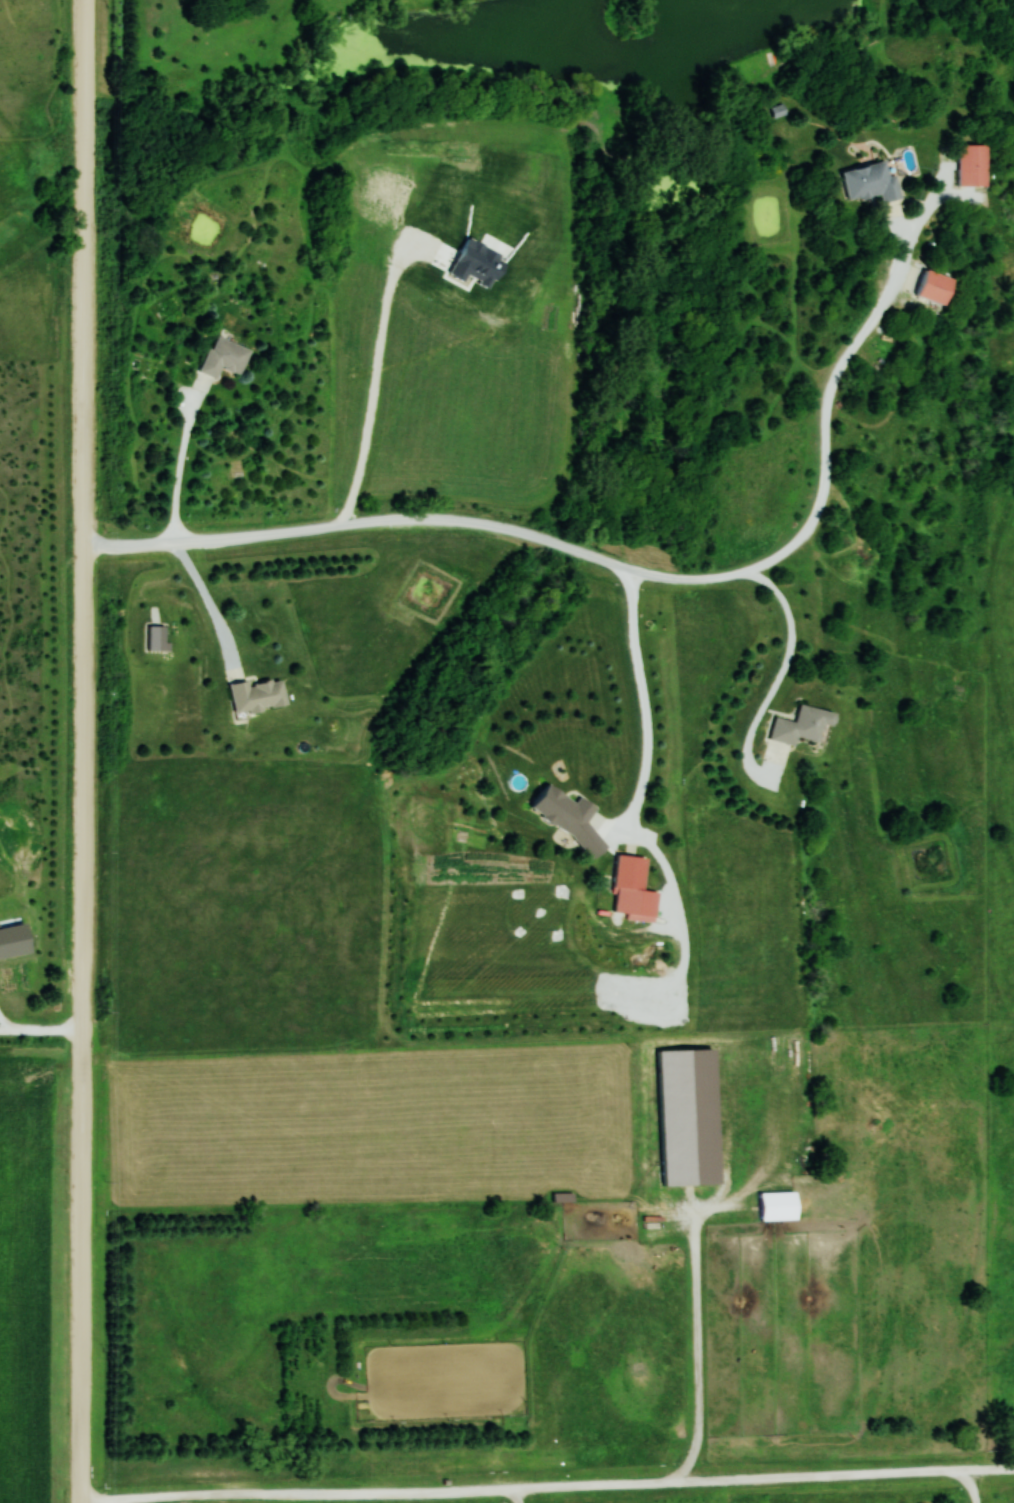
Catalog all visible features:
building: (974, 164)
building: (873, 181)
building: (938, 286)
building: (227, 358)
road: (187, 467)
road: (622, 568)
building: (260, 695)
building: (805, 725)
road: (87, 751)
building: (567, 809)
building: (635, 889)
road: (43, 1035)
building: (782, 1206)
road: (701, 1349)
road: (982, 1487)
road: (569, 1489)
road: (526, 1497)

